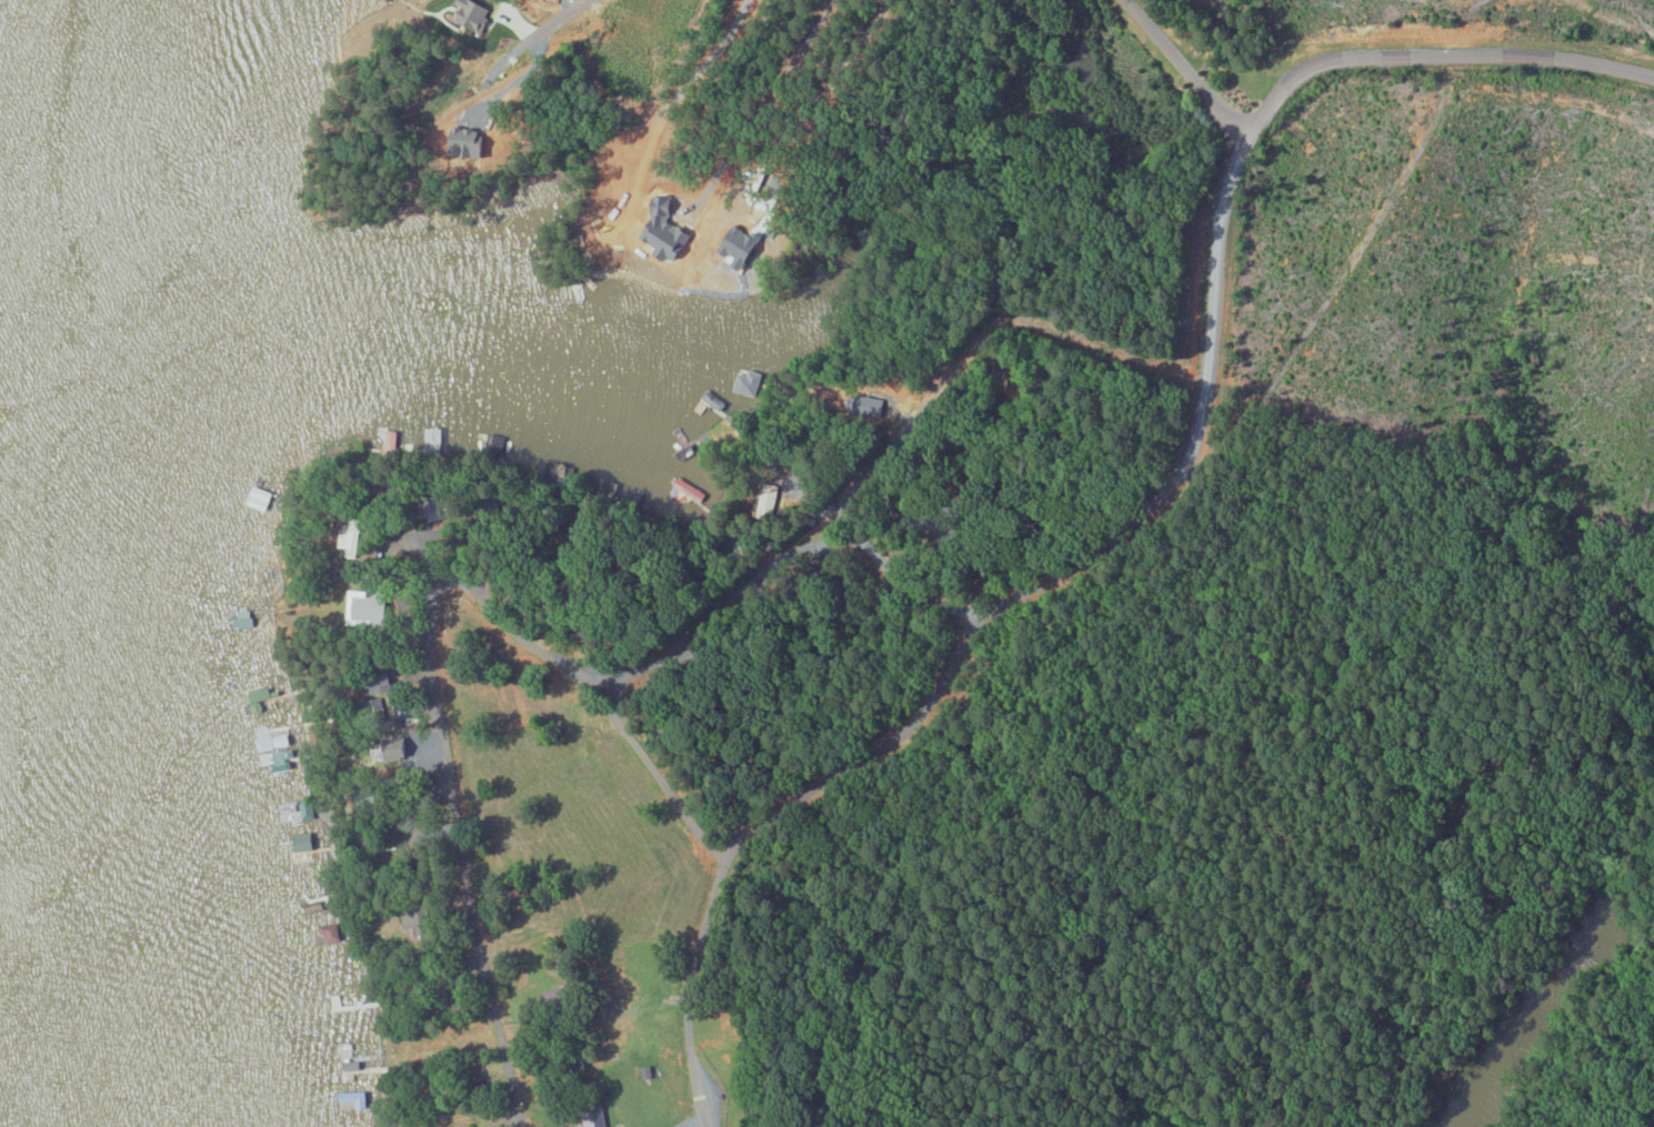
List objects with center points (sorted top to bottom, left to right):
building: (471, 12)
road: (1187, 71)
road: (1205, 373)
road: (748, 517)
building: (367, 608)
road: (425, 656)
building: (273, 742)
building: (283, 758)
building: (307, 808)
building: (304, 842)
building: (331, 933)
road: (691, 976)
building: (354, 1098)
building: (595, 1118)

